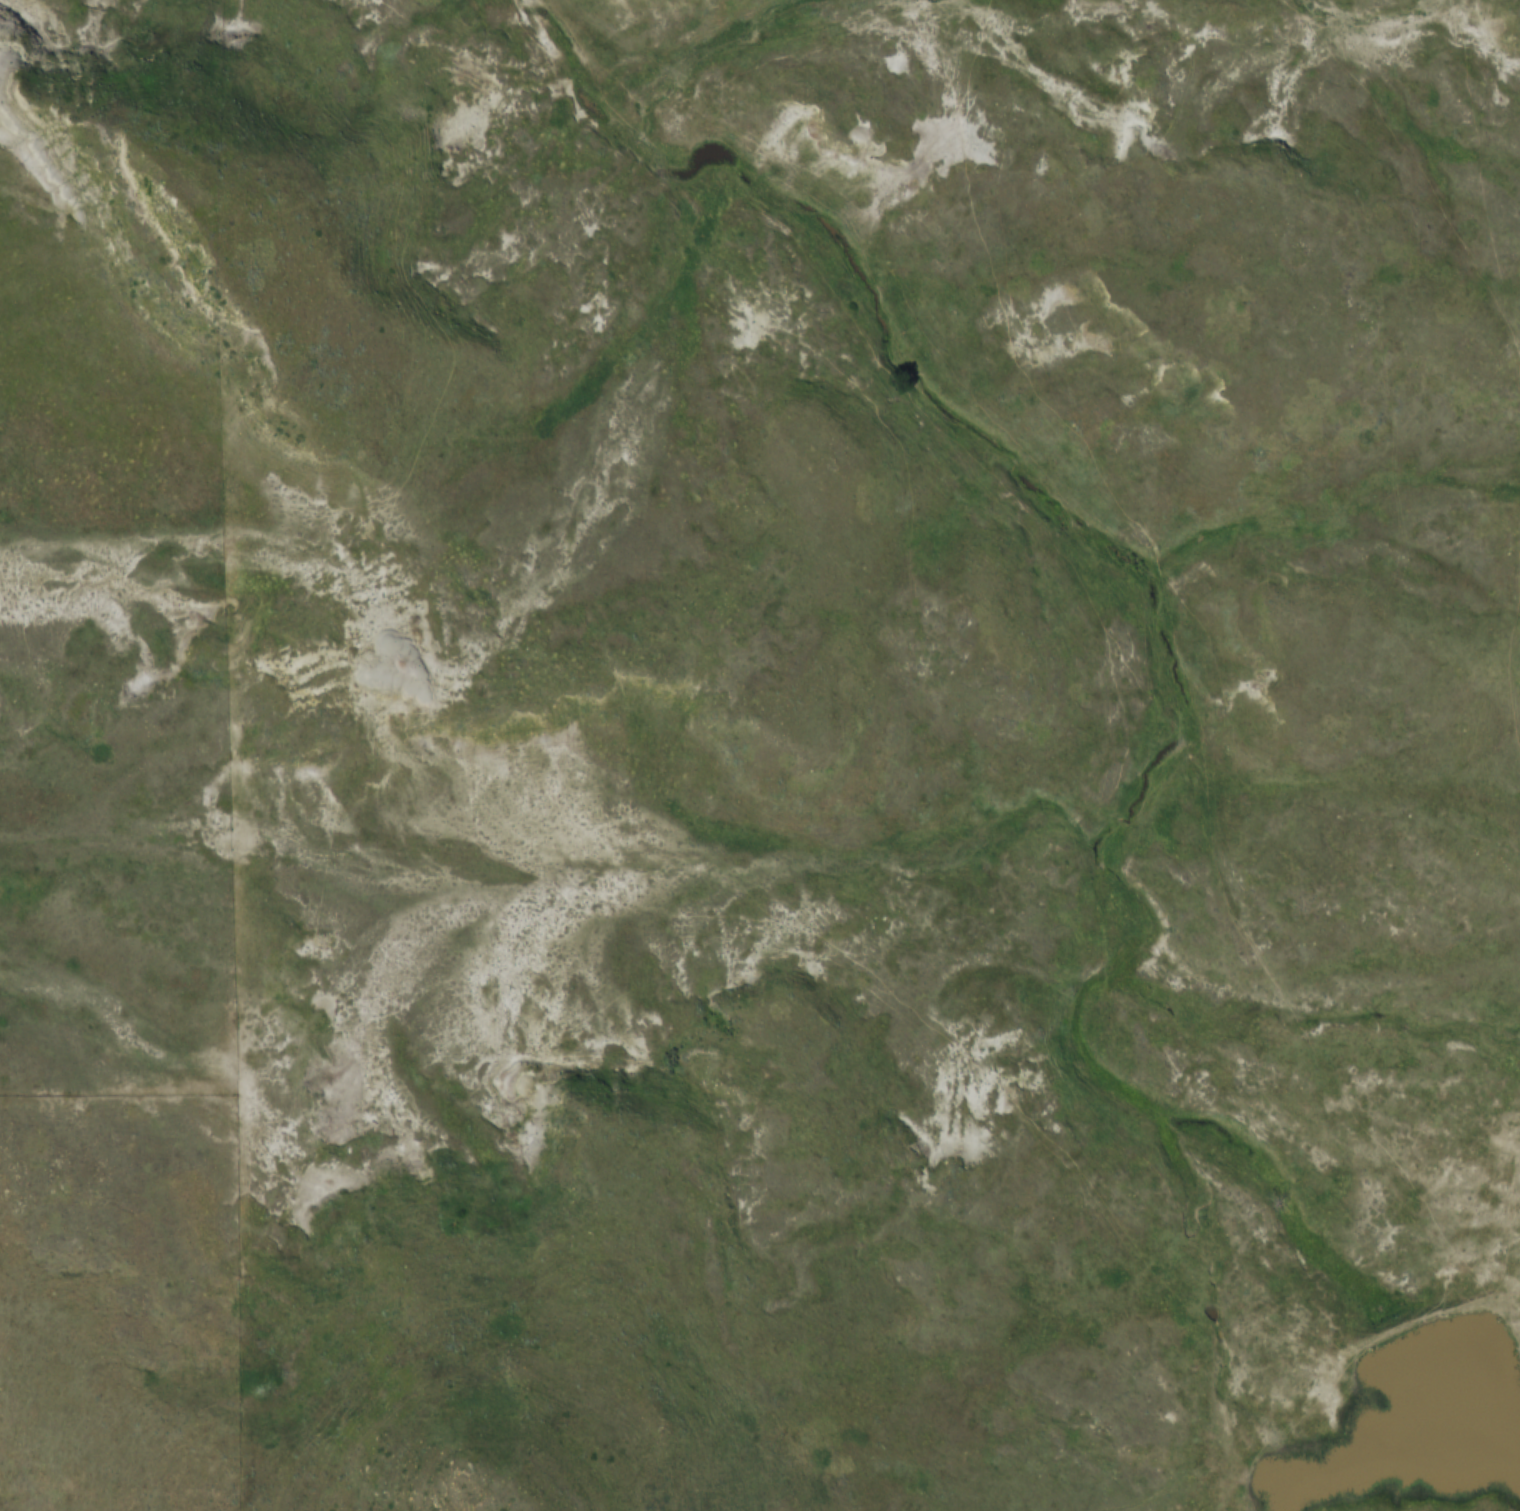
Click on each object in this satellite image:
dam: (1427, 1309)

